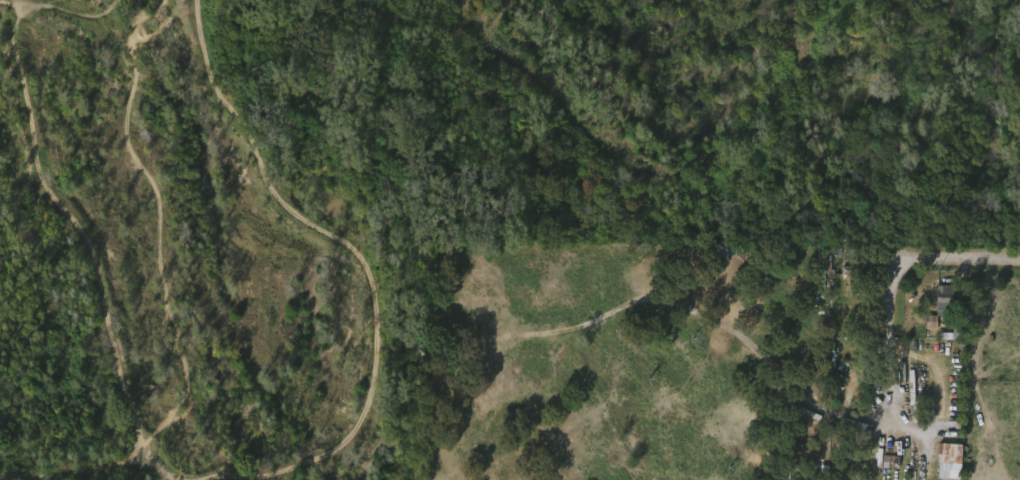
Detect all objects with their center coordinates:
road: (930, 260)
building: (853, 278)
building: (945, 298)
building: (934, 316)
road: (893, 387)
building: (909, 391)
building: (950, 452)
building: (942, 465)

